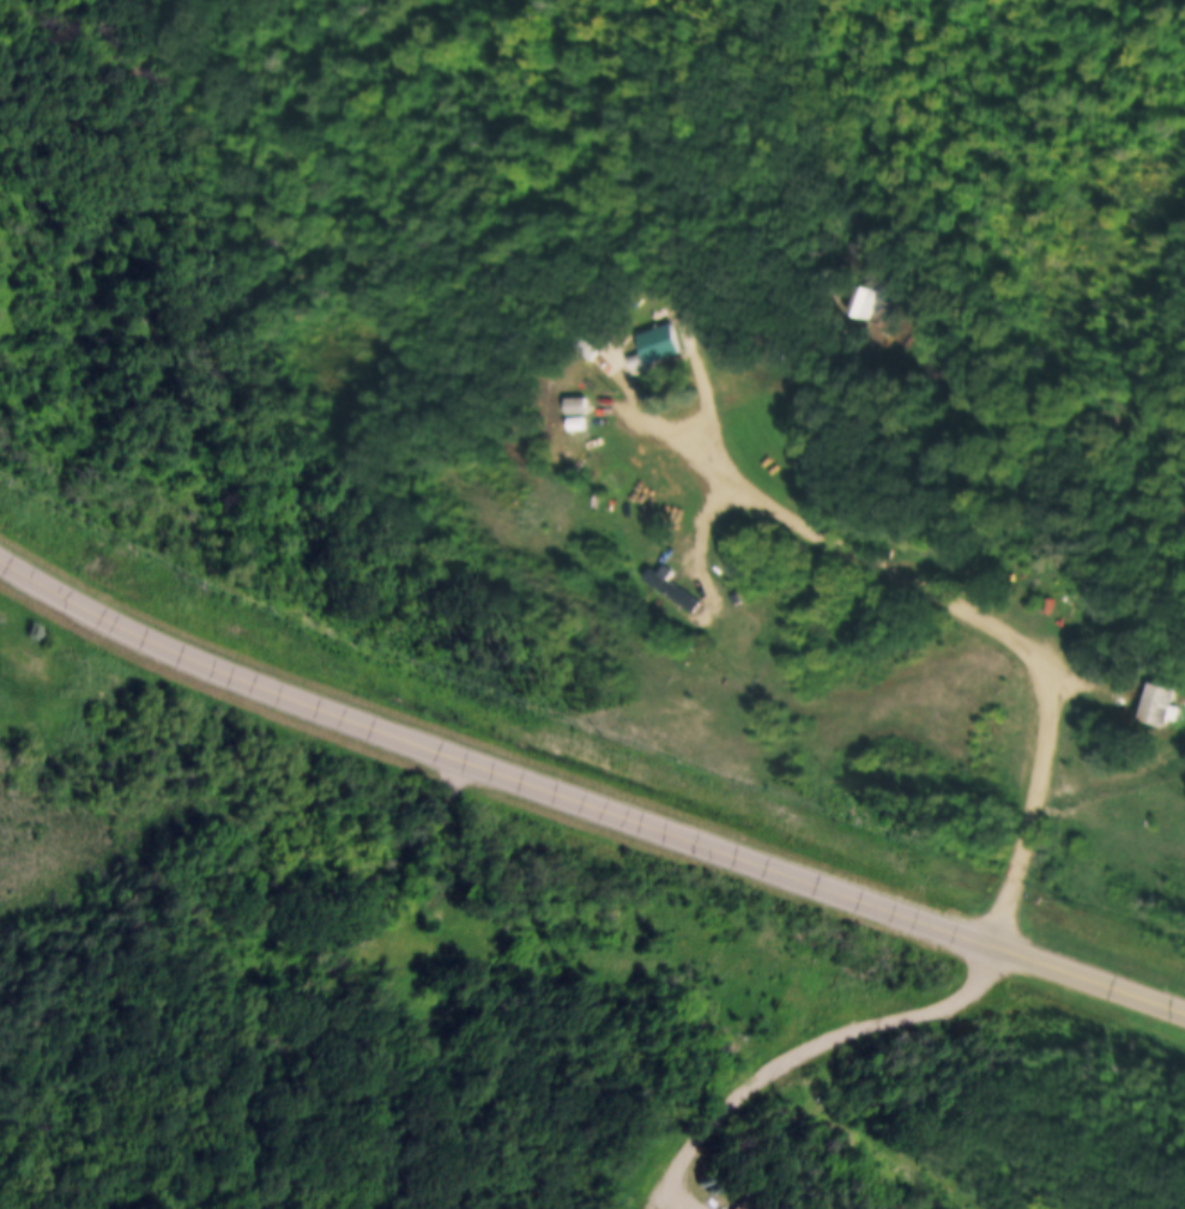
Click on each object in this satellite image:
building: (800, 271)
building: (846, 290)
building: (859, 303)
building: (580, 332)
building: (642, 336)
building: (654, 347)
building: (564, 397)
building: (578, 406)
building: (567, 415)
building: (1033, 569)
building: (661, 576)
road: (953, 596)
building: (1147, 694)
building: (1161, 706)
road: (585, 799)
road: (814, 1047)

